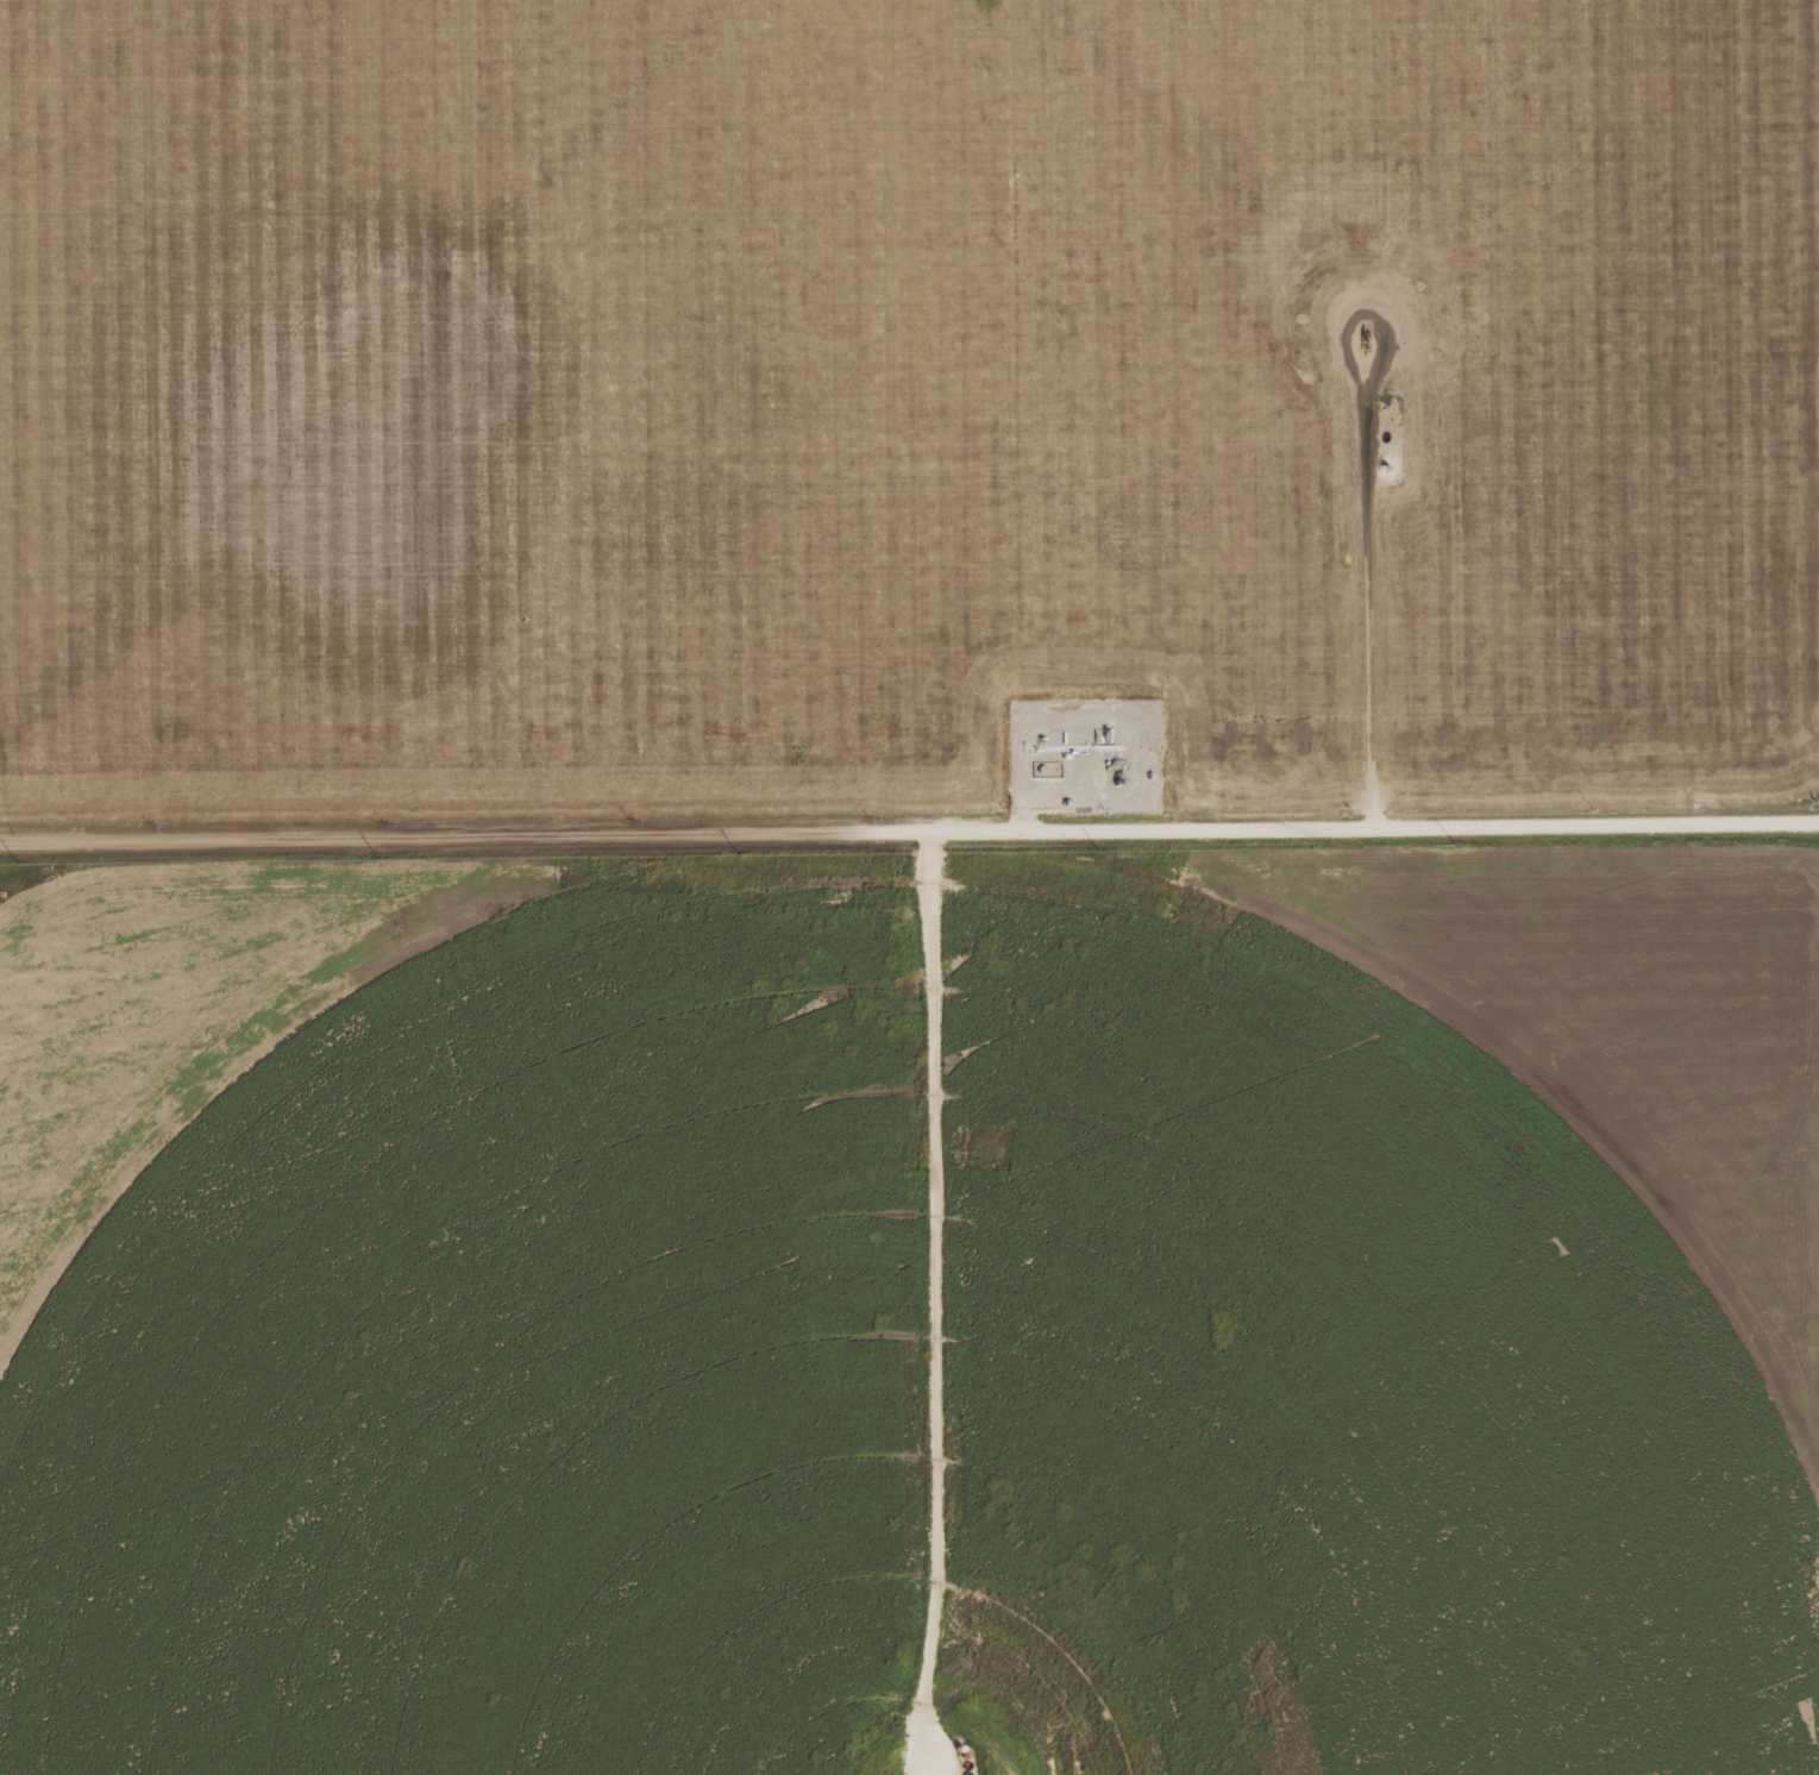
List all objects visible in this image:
road: (909, 830)

